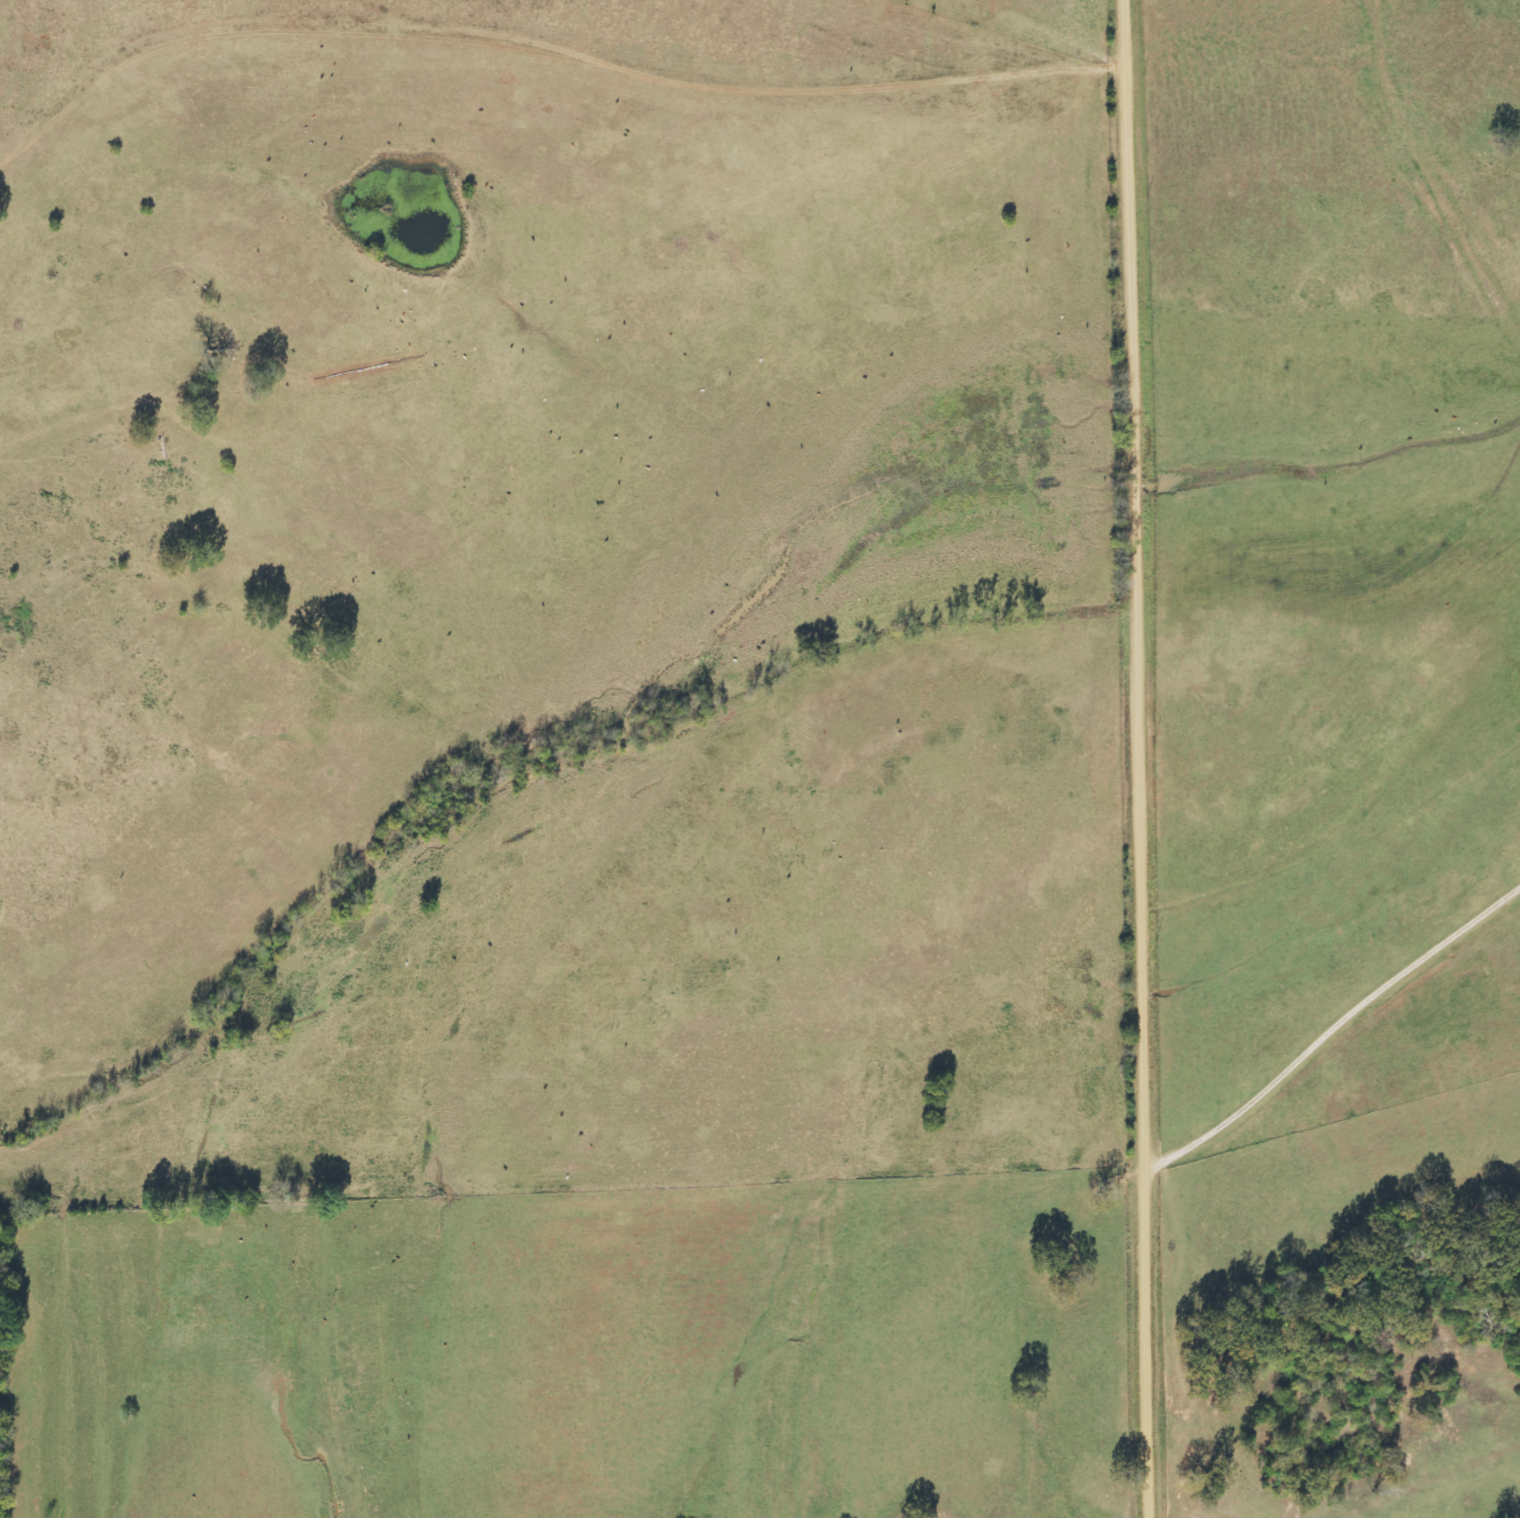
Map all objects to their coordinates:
road: (1136, 758)
road: (1335, 1034)

